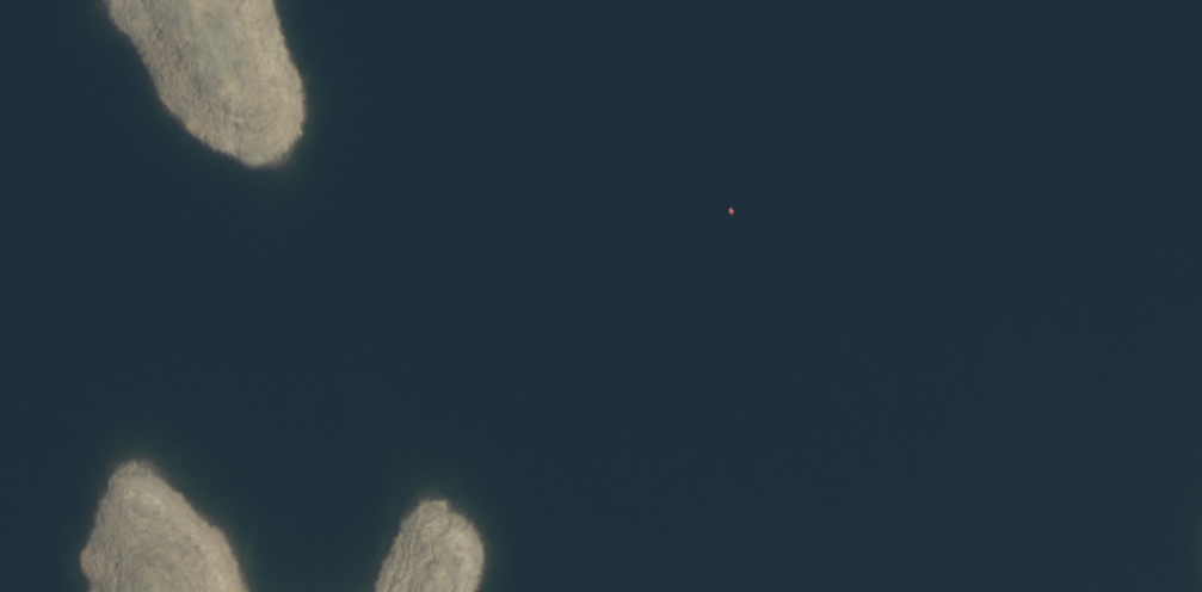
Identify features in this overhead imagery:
park: (600, 296)

